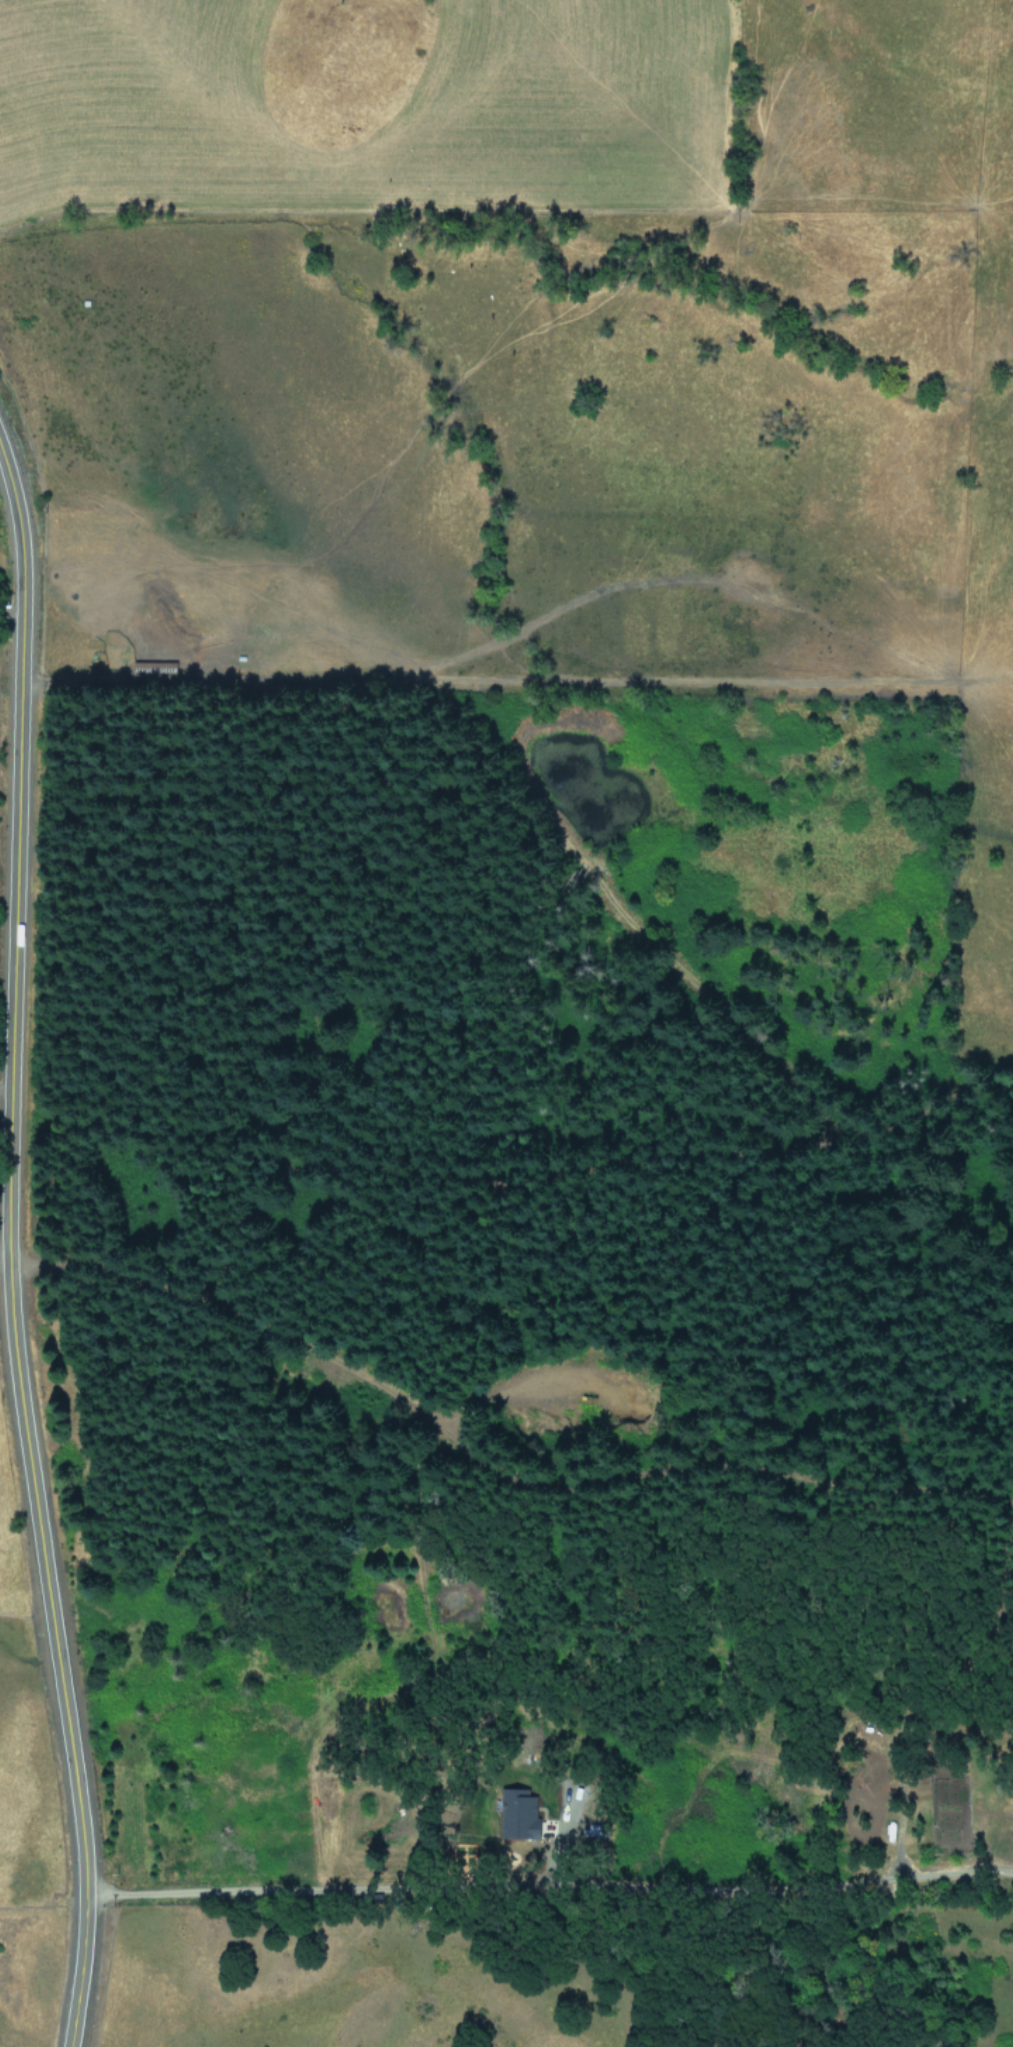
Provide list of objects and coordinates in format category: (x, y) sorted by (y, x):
crop: (543, 411)
road: (14, 1248)
road: (7, 1259)
crop: (15, 1803)
building: (519, 1813)
road: (546, 1882)

